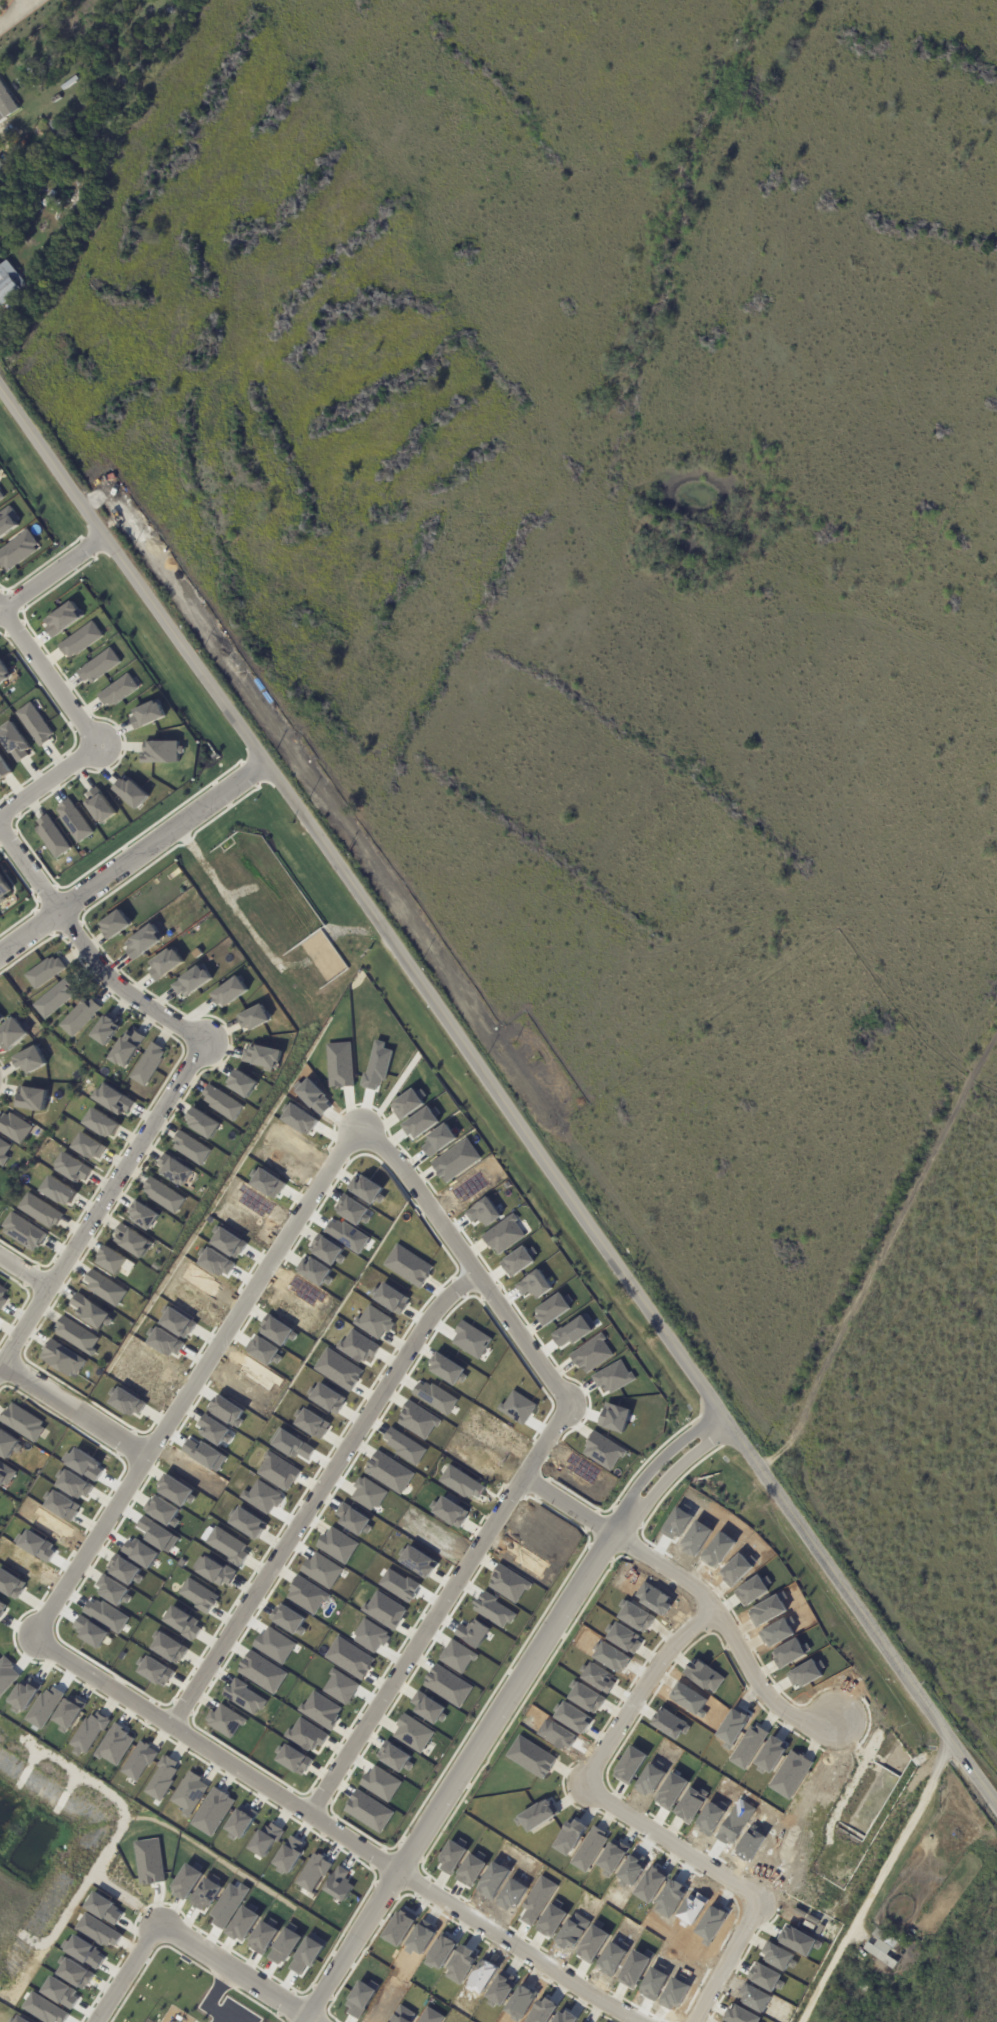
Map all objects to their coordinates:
road: (27, 1)
road: (15, 11)
building: (70, 83)
building: (9, 95)
building: (47, 104)
building: (5, 107)
road: (1, 133)
building: (3, 170)
building: (82, 184)
building: (78, 204)
building: (11, 282)
building: (1, 496)
building: (8, 522)
building: (18, 551)
road: (52, 574)
building: (62, 619)
building: (80, 640)
building: (97, 666)
building: (3, 674)
building: (117, 691)
building: (146, 714)
building: (34, 724)
road: (83, 728)
building: (14, 742)
building: (161, 752)
building: (4, 770)
building: (131, 793)
building: (99, 806)
building: (73, 821)
building: (51, 837)
road: (132, 858)
building: (3, 890)
building: (115, 924)
building: (143, 942)
building: (165, 964)
building: (45, 972)
building: (191, 982)
building: (229, 992)
building: (55, 999)
building: (80, 1016)
building: (254, 1018)
building: (1, 1019)
building: (105, 1030)
building: (12, 1034)
building: (127, 1049)
building: (261, 1057)
building: (30, 1061)
building: (148, 1064)
road: (175, 1080)
building: (242, 1084)
road: (497, 1096)
building: (31, 1099)
building: (113, 1100)
building: (221, 1102)
building: (202, 1123)
building: (101, 1124)
building: (13, 1128)
building: (88, 1147)
building: (190, 1148)
building: (3, 1152)
building: (72, 1168)
building: (453, 1169)
building: (174, 1170)
building: (481, 1182)
building: (59, 1191)
building: (162, 1195)
building: (40, 1211)
building: (143, 1216)
building: (23, 1232)
building: (503, 1236)
building: (131, 1240)
road: (878, 1248)
road: (463, 1258)
building: (517, 1262)
building: (407, 1266)
road: (25, 1270)
building: (105, 1289)
building: (2, 1296)
building: (391, 1299)
building: (89, 1311)
building: (76, 1336)
building: (63, 1359)
building: (447, 1369)
road: (190, 1371)
building: (613, 1377)
road: (70, 1408)
building: (22, 1422)
building: (8, 1444)
building: (603, 1452)
road: (655, 1465)
building: (388, 1472)
building: (6, 1475)
road: (667, 1479)
road: (316, 1495)
building: (451, 1512)
building: (248, 1523)
building: (418, 1562)
road: (694, 1588)
road: (440, 1610)
building: (287, 1619)
building: (170, 1649)
building: (156, 1672)
building: (262, 1672)
building: (447, 1686)
road: (638, 1690)
building: (428, 1708)
building: (321, 1710)
building: (115, 1745)
building: (394, 1757)
building: (294, 1760)
road: (455, 1778)
building: (368, 1812)
building: (241, 1821)
road: (327, 1826)
road: (669, 1842)
building: (289, 1854)
road: (878, 1883)
building: (880, 1949)
road: (725, 1960)
road: (127, 1975)
road: (231, 1975)
building: (864, 1989)

